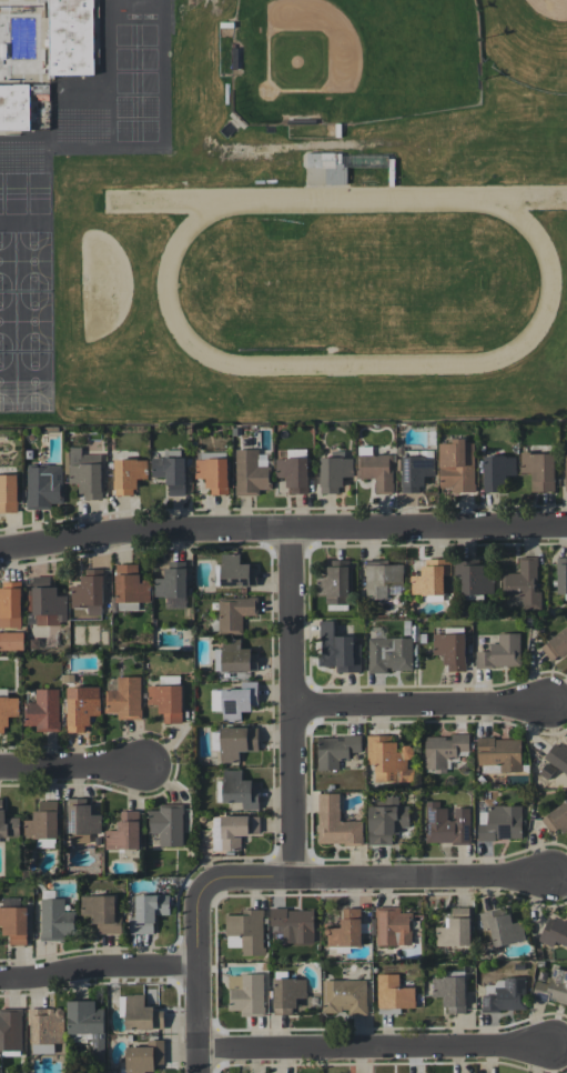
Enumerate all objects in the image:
building: (70, 37)
building: (17, 104)
building: (323, 159)
building: (30, 397)
building: (456, 465)
building: (416, 469)
building: (170, 470)
building: (539, 470)
building: (334, 471)
building: (377, 471)
building: (497, 471)
building: (566, 471)
building: (85, 472)
building: (250, 473)
building: (293, 473)
building: (129, 474)
building: (213, 474)
building: (43, 485)
building: (8, 493)
road: (282, 529)
building: (234, 572)
building: (431, 576)
building: (382, 578)
building: (474, 578)
building: (561, 578)
building: (335, 581)
building: (130, 583)
building: (172, 584)
building: (522, 585)
building: (89, 591)
building: (45, 601)
building: (10, 604)
building: (234, 612)
building: (556, 645)
building: (337, 649)
building: (450, 650)
building: (499, 651)
building: (389, 654)
building: (234, 656)
building: (124, 698)
building: (166, 701)
building: (234, 701)
road: (292, 705)
road: (421, 705)
building: (81, 706)
building: (43, 710)
building: (7, 711)
building: (236, 742)
building: (335, 750)
building: (444, 750)
building: (499, 754)
building: (557, 756)
building: (389, 760)
road: (71, 764)
building: (239, 789)
building: (385, 819)
building: (556, 819)
building: (81, 821)
building: (335, 822)
building: (499, 822)
building: (43, 824)
building: (168, 824)
building: (446, 824)
building: (8, 825)
building: (237, 829)
building: (124, 832)
building: (216, 832)
road: (374, 882)
building: (102, 912)
building: (148, 912)
building: (55, 920)
building: (14, 924)
building: (294, 924)
building: (393, 926)
building: (502, 926)
building: (346, 929)
building: (455, 929)
building: (245, 931)
building: (554, 931)
road: (100, 969)
road: (201, 977)
building: (551, 985)
building: (393, 992)
building: (245, 993)
building: (450, 993)
building: (288, 994)
building: (506, 995)
building: (344, 996)
building: (141, 1013)
building: (88, 1024)
building: (45, 1029)
building: (10, 1031)
building: (80, 1037)
road: (376, 1051)
building: (144, 1056)

